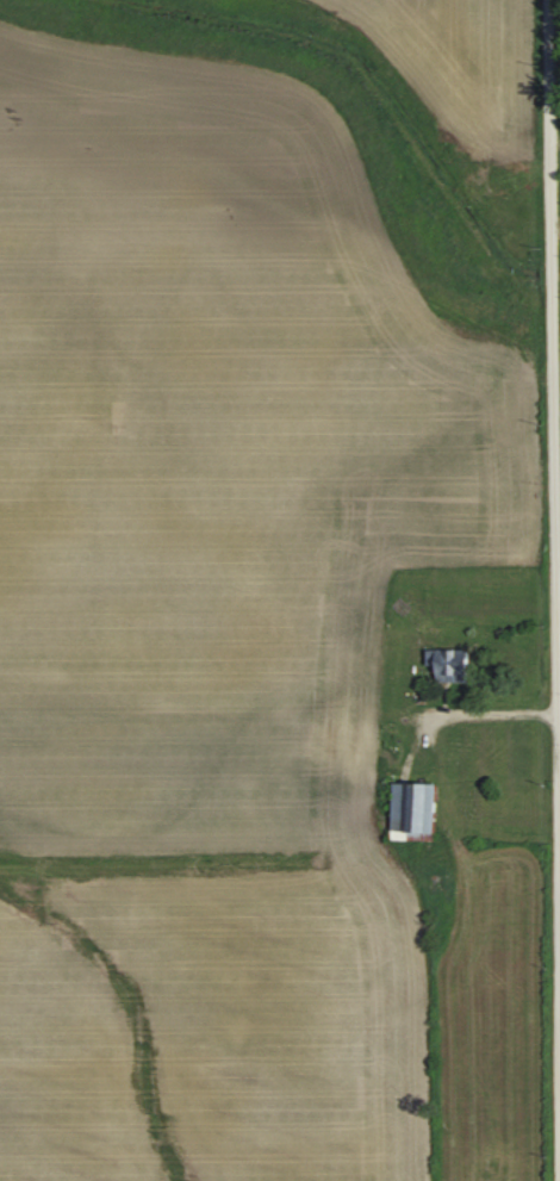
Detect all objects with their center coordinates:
road: (559, 133)
building: (446, 665)
building: (363, 672)
building: (410, 809)

